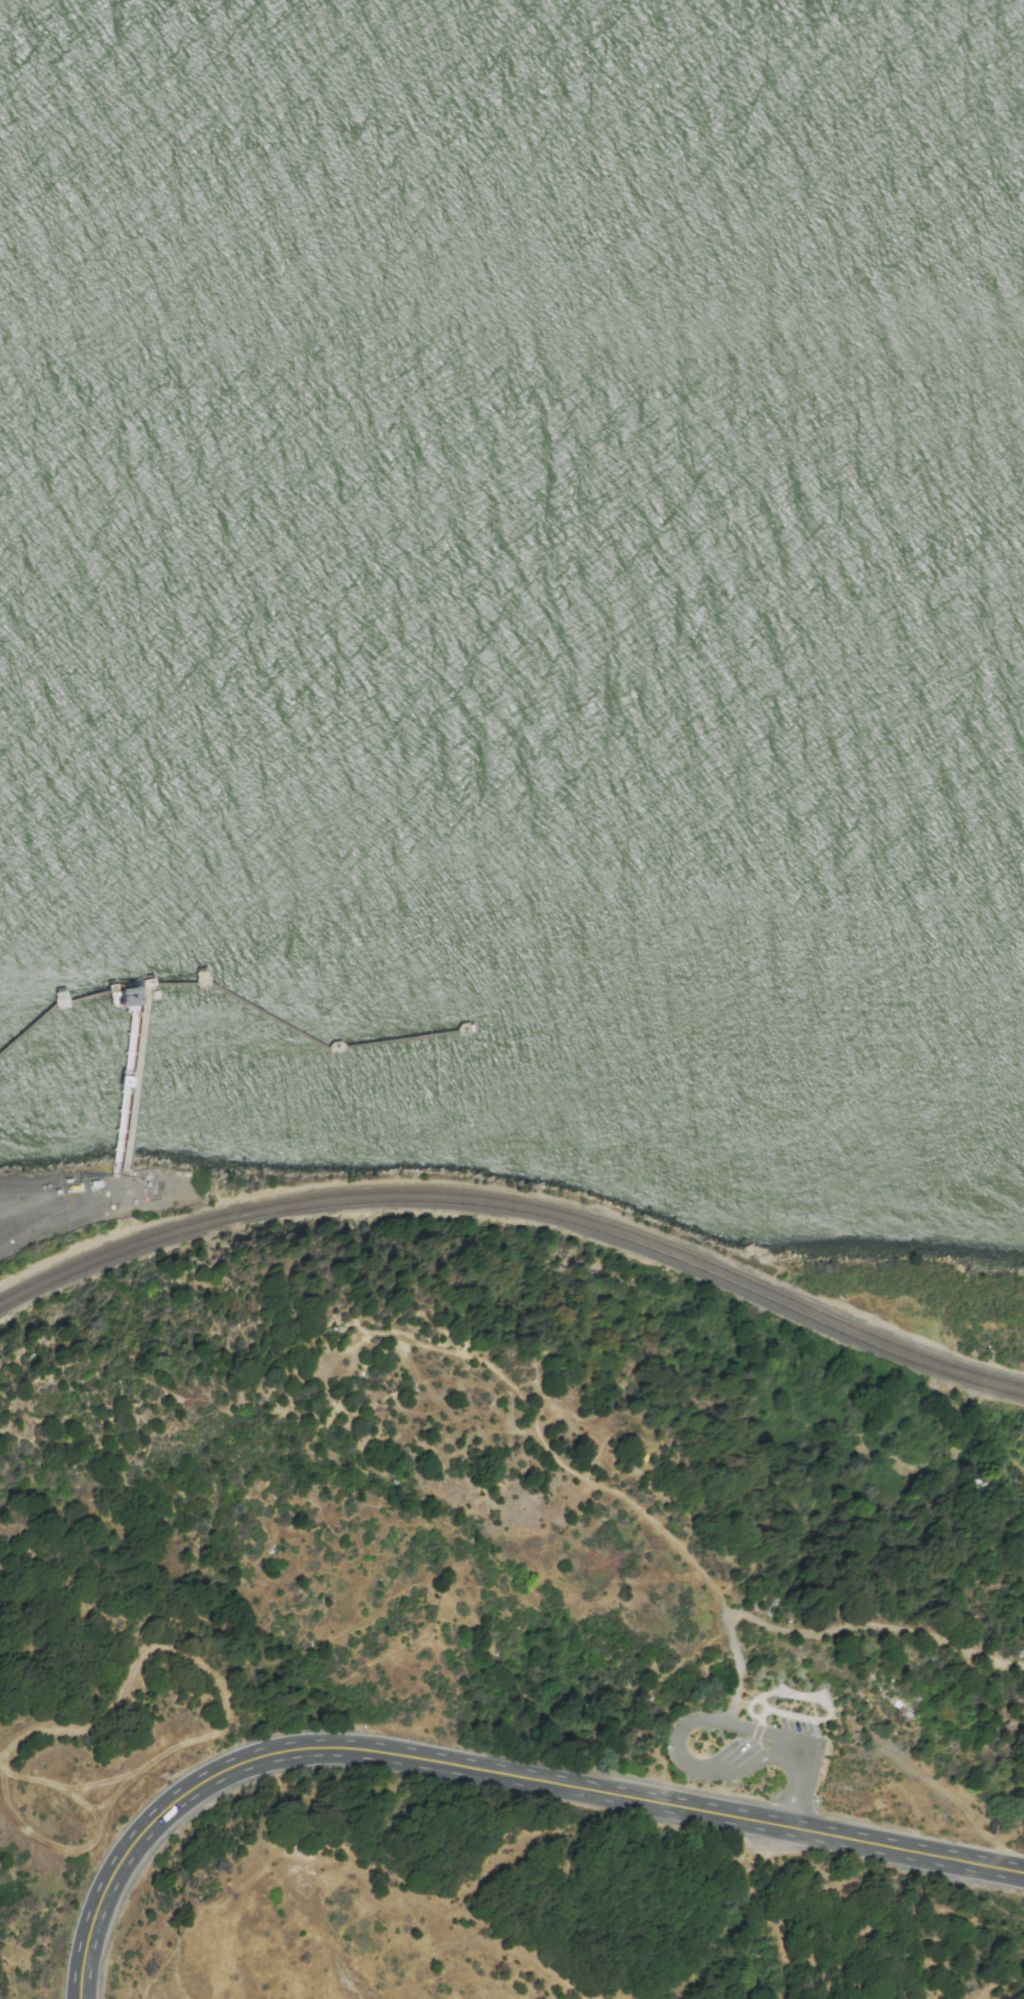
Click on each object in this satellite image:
pier: (129, 1080)
railway: (519, 1202)
railway: (518, 1211)
road: (594, 1484)
road: (870, 1625)
road: (814, 1720)
road: (758, 1721)
parking lot: (798, 1732)
road: (216, 1734)
road: (676, 1747)
road: (4, 1756)
road: (483, 1772)
road: (799, 1781)
road: (375, 1900)

